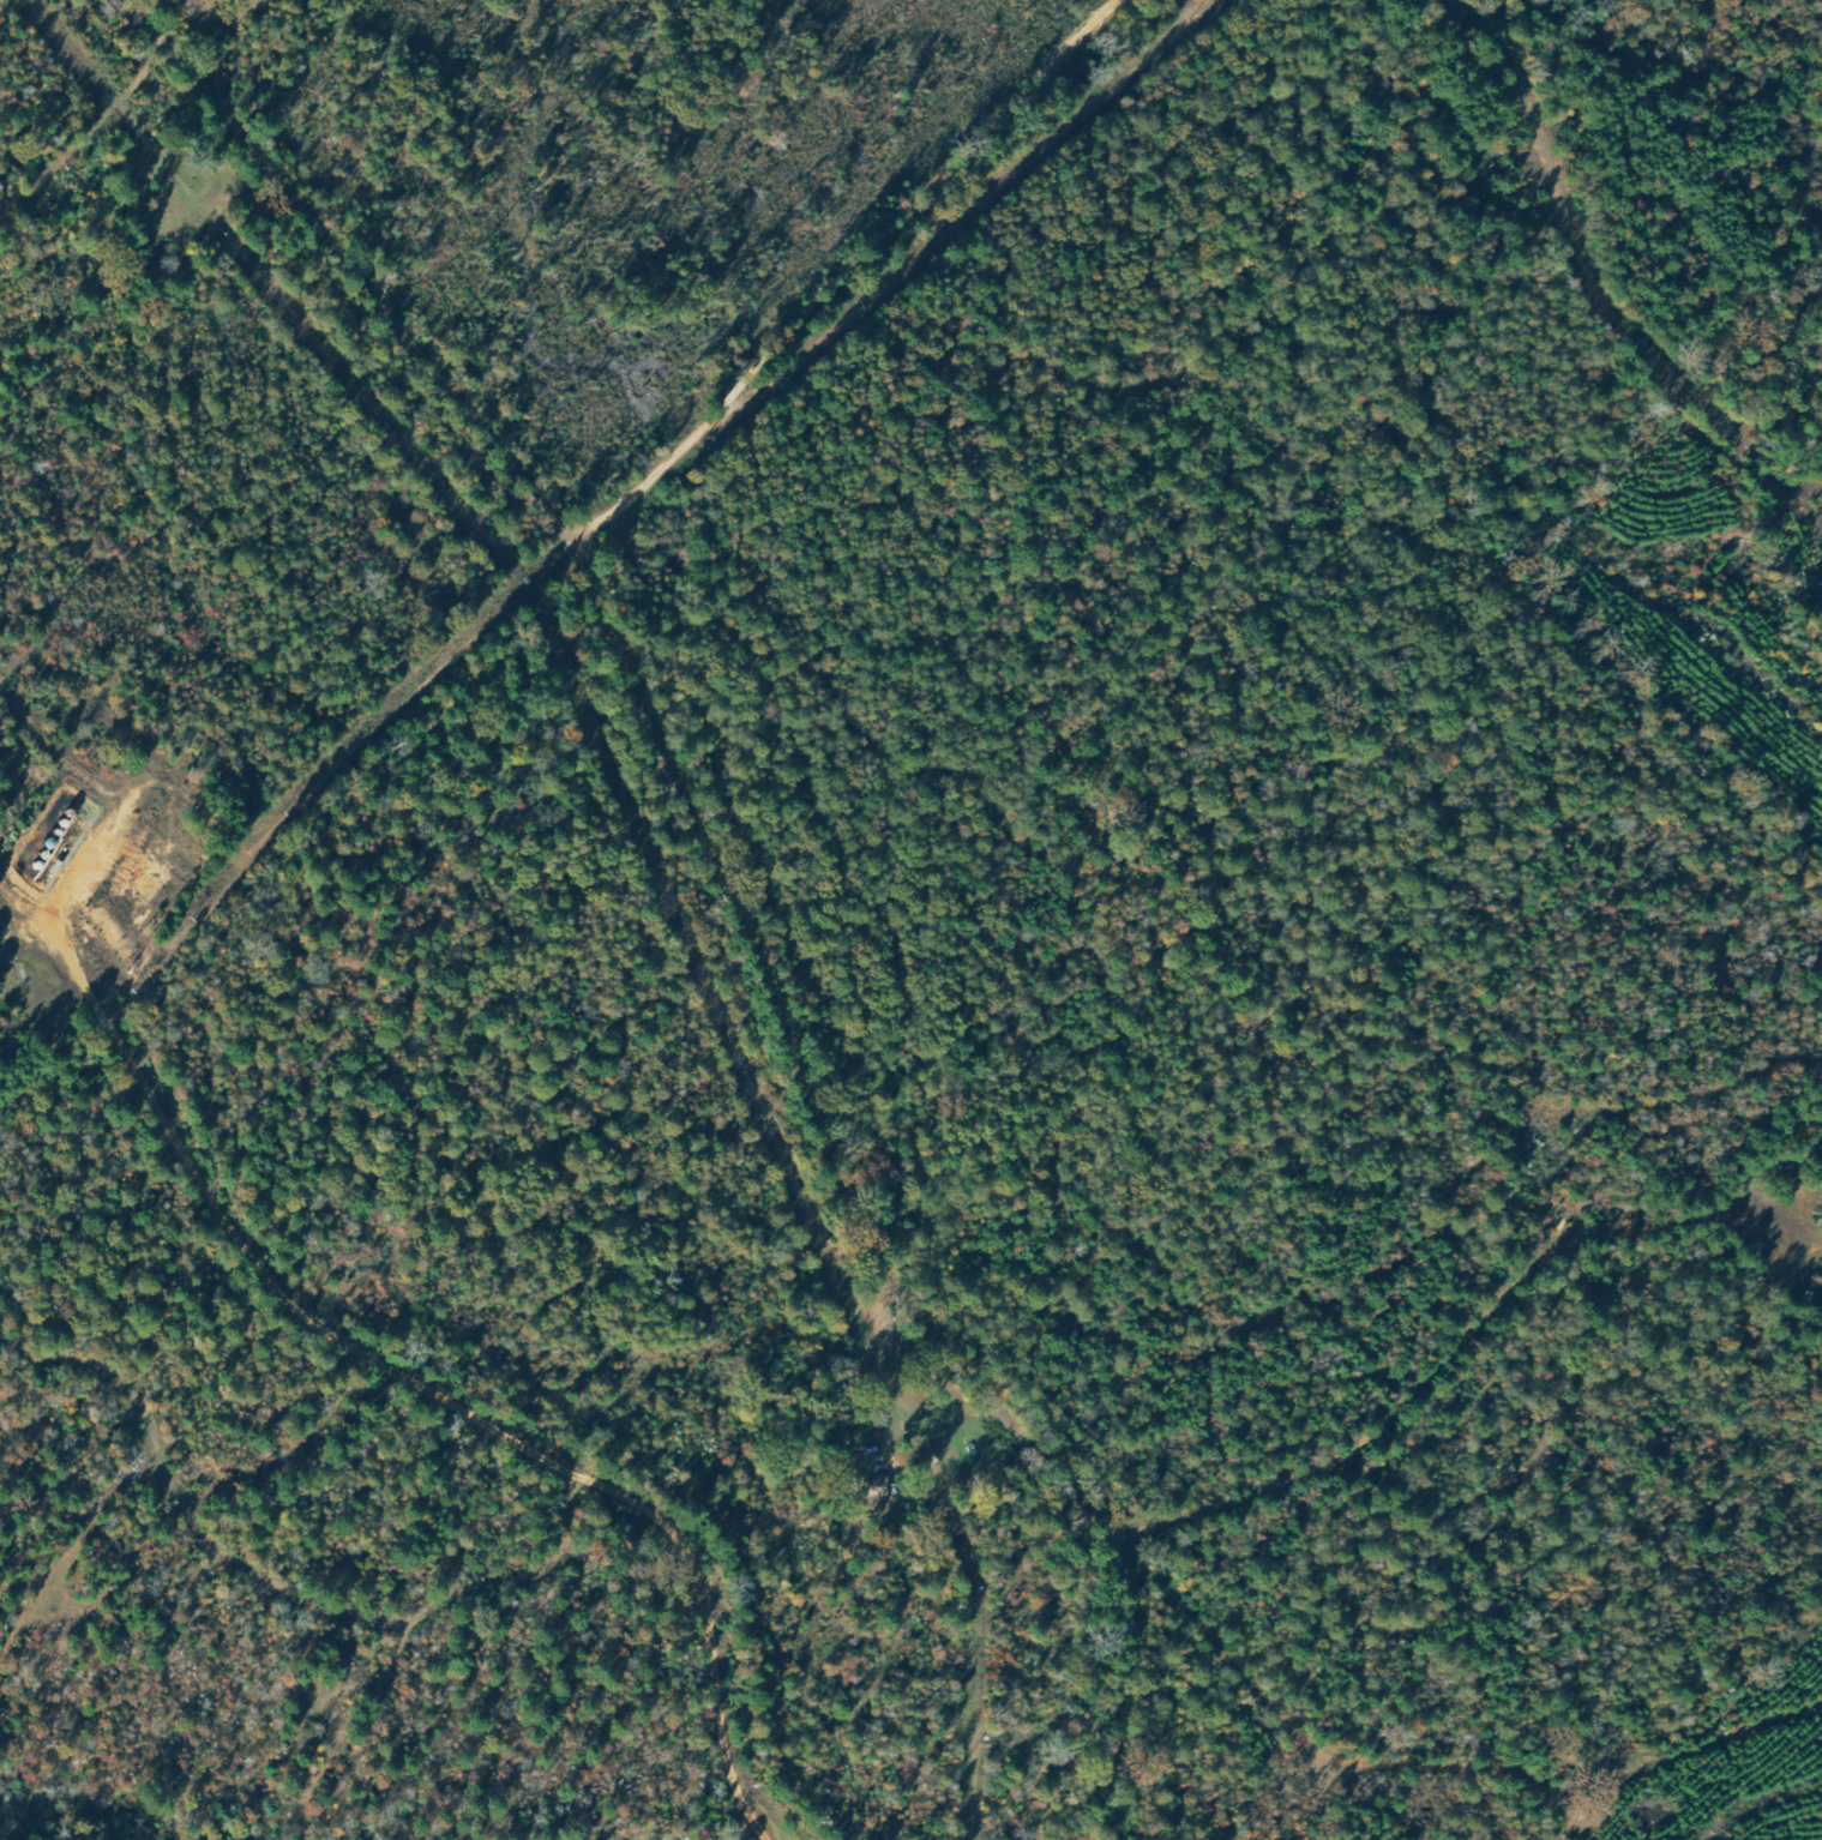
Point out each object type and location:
road: (847, 275)
road: (723, 882)
road: (391, 1366)

